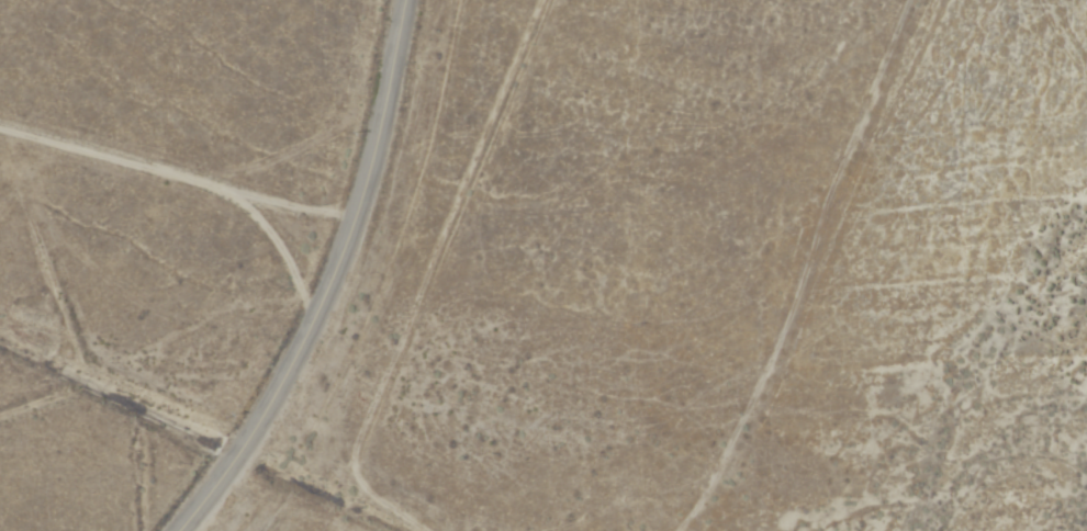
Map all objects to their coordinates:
road: (175, 174)
road: (281, 249)
road: (841, 274)
road: (326, 280)

